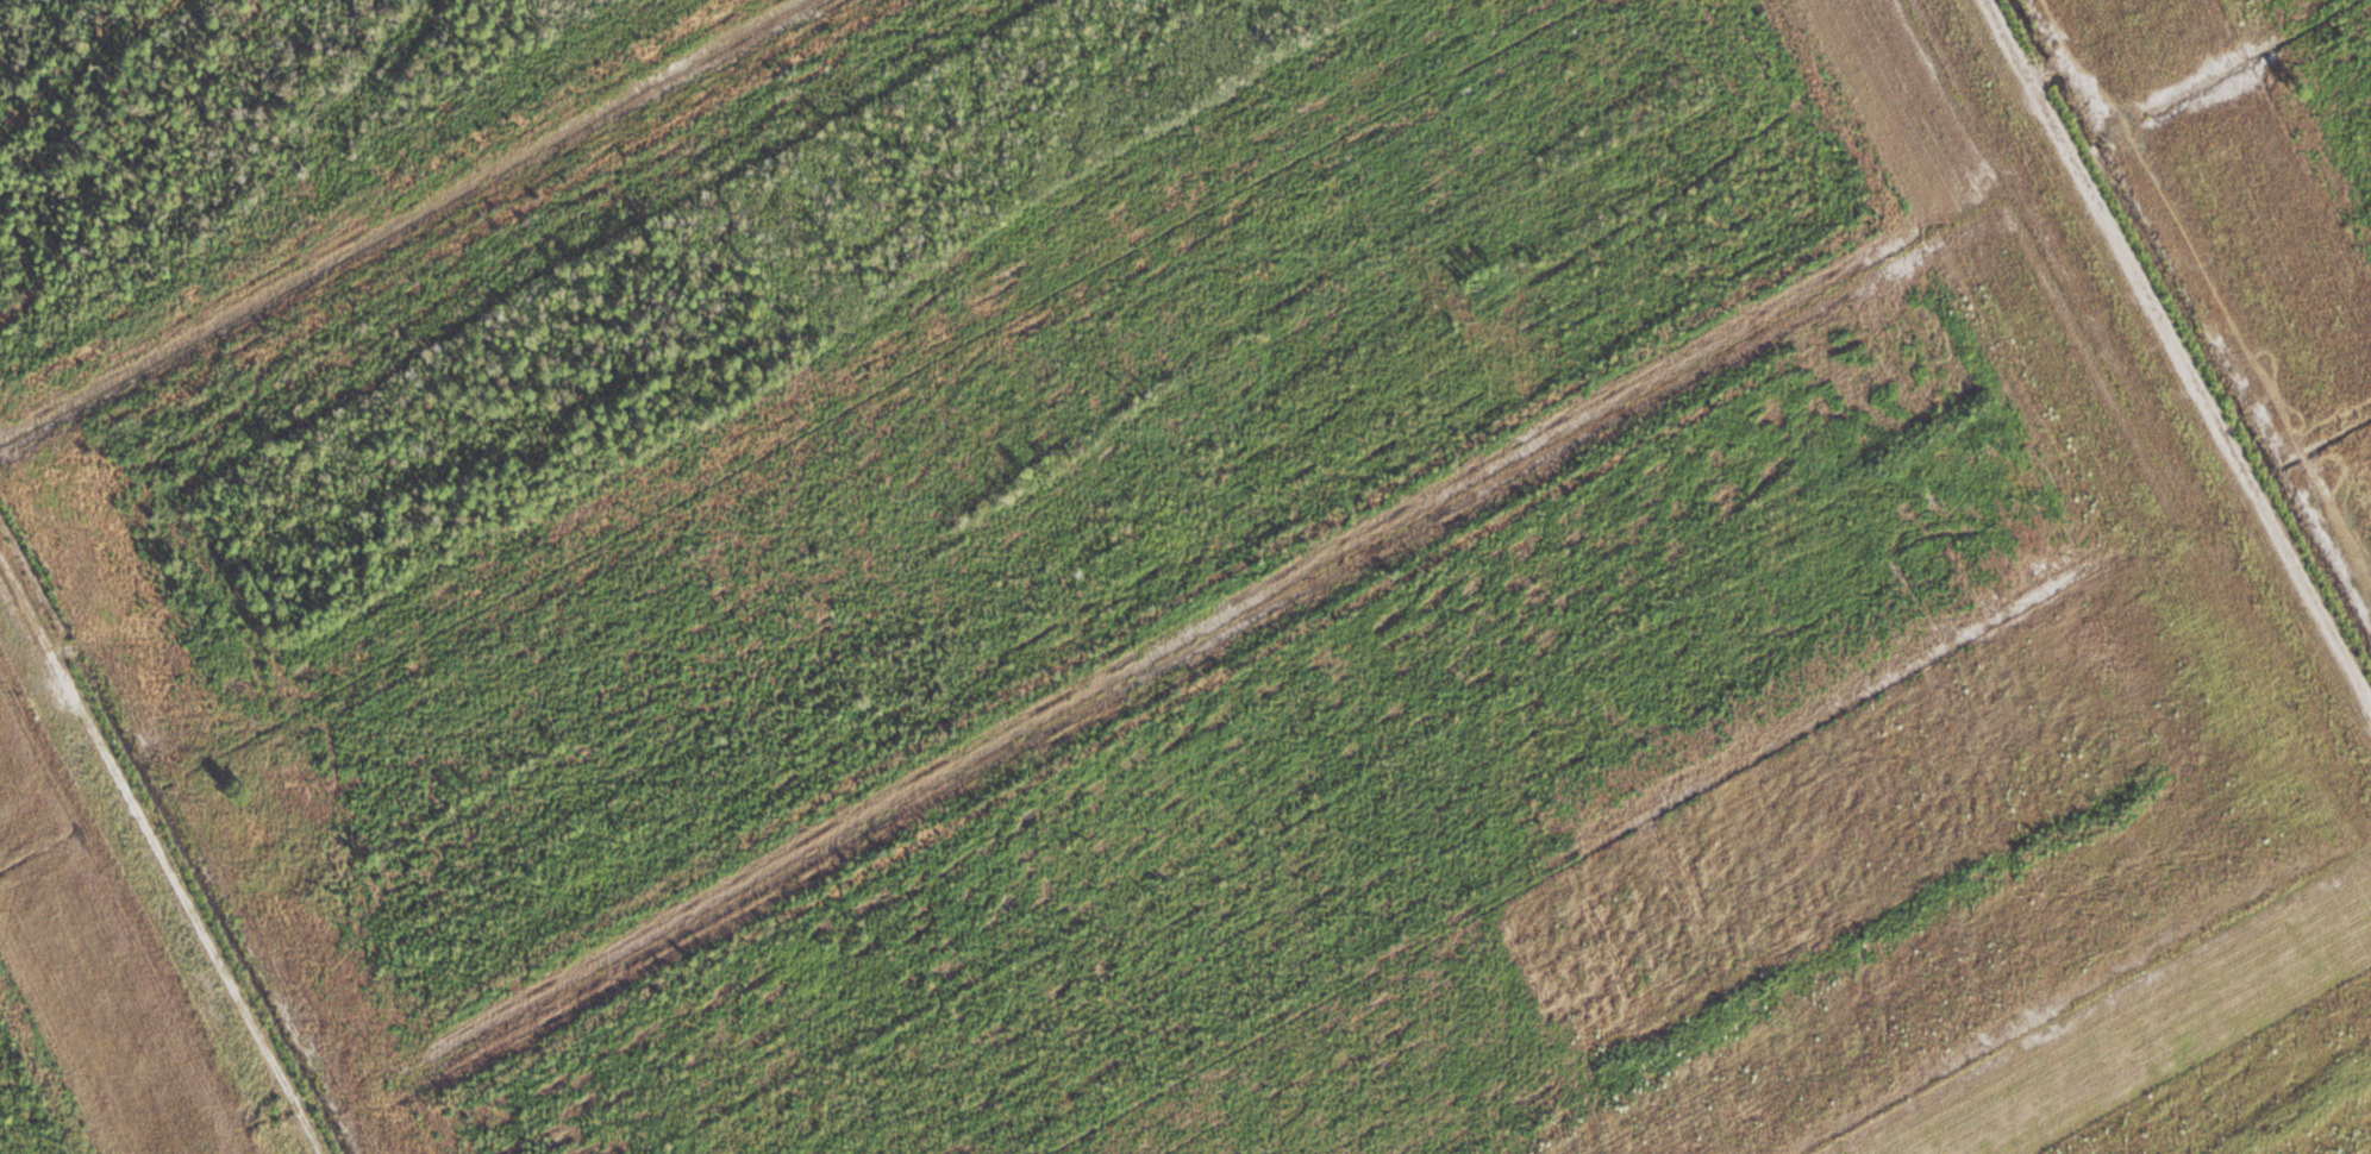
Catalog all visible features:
road: (2145, 406)
road: (127, 951)

